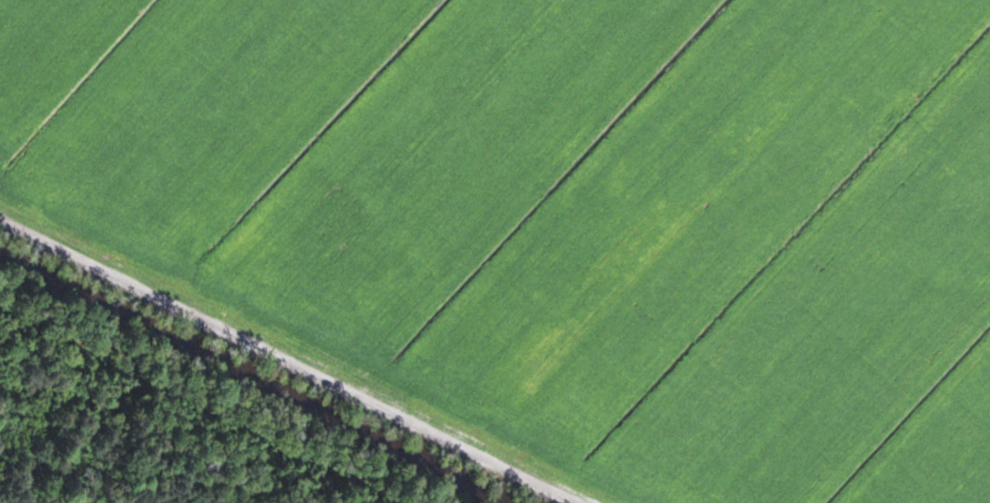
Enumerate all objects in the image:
crop: (565, 214)
road: (283, 363)

